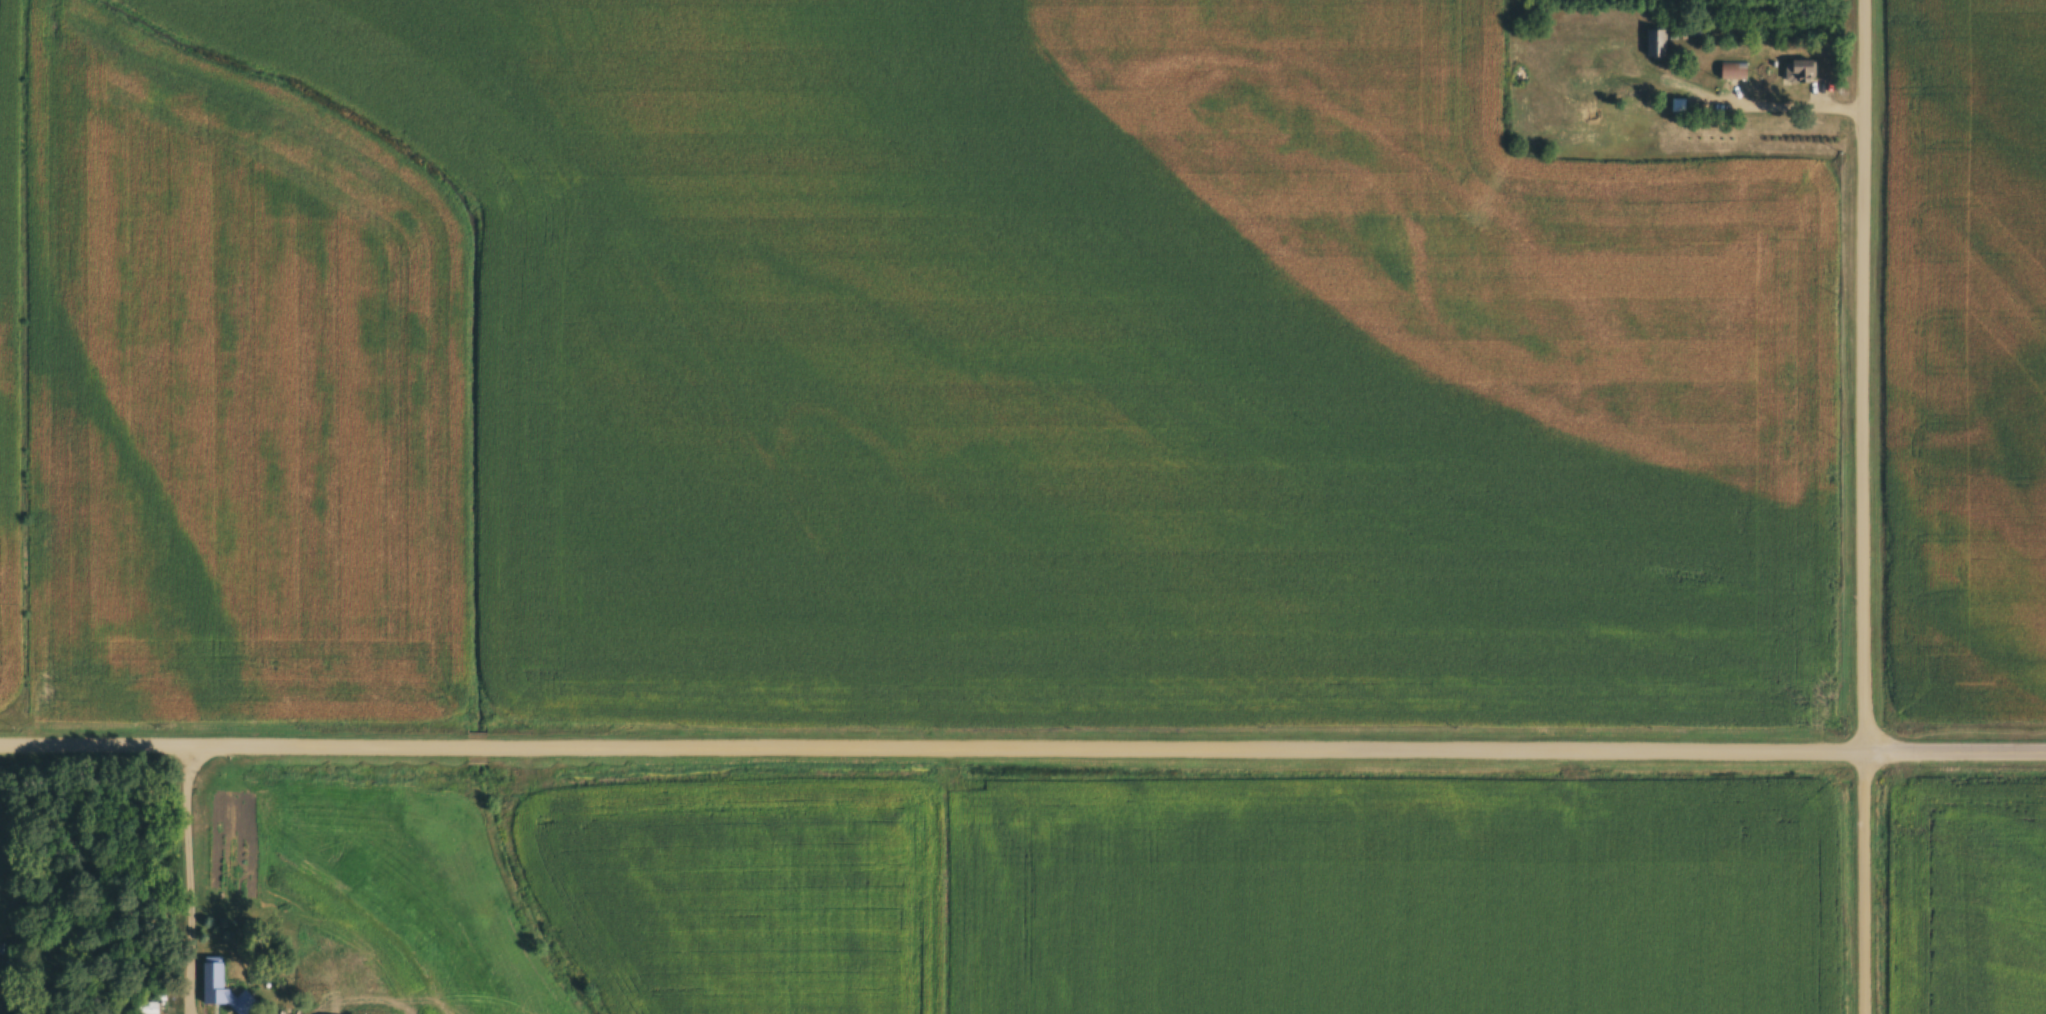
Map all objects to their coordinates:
building: (1656, 42)
building: (1591, 59)
building: (1733, 69)
building: (1800, 70)
road: (1788, 106)
crop: (1966, 361)
road: (1865, 506)
road: (933, 747)
road: (1956, 749)
road: (6, 756)
road: (183, 880)
crop: (1966, 892)
road: (4, 910)
road: (360, 984)
building: (222, 987)
building: (148, 1007)

